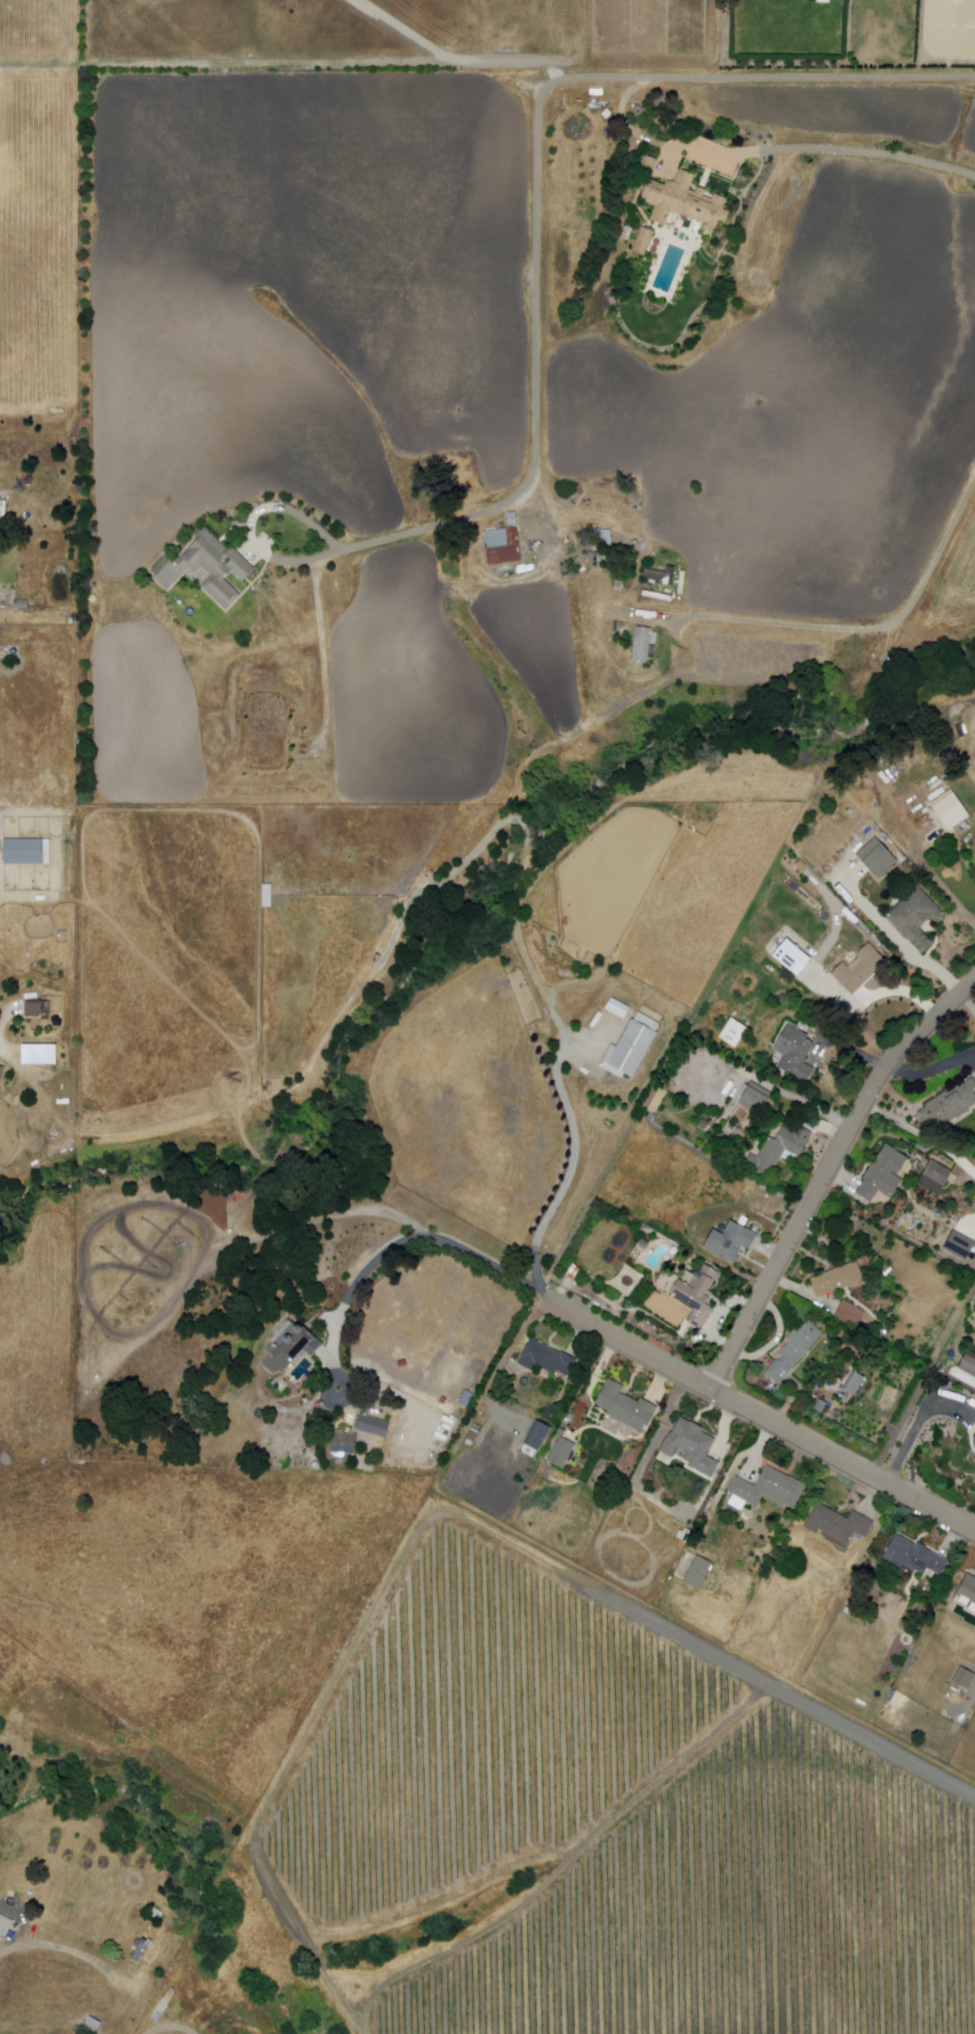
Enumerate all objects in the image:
road: (563, 75)
road: (831, 152)
building: (650, 165)
building: (687, 202)
building: (645, 242)
building: (3, 508)
building: (514, 519)
building: (608, 538)
building: (504, 547)
road: (337, 553)
building: (207, 568)
building: (663, 575)
building: (684, 583)
building: (659, 596)
storage tank: (94, 599)
building: (22, 605)
storage tank: (67, 614)
road: (747, 619)
building: (644, 646)
storage tank: (4, 655)
road: (325, 662)
building: (951, 808)
building: (24, 850)
building: (875, 858)
building: (974, 872)
building: (268, 896)
building: (913, 917)
building: (789, 958)
road: (526, 959)
building: (858, 968)
building: (35, 1009)
building: (732, 1032)
building: (632, 1045)
building: (793, 1052)
building: (39, 1055)
building: (1, 1074)
building: (754, 1098)
building: (948, 1105)
building: (702, 1125)
building: (778, 1147)
road: (828, 1173)
building: (881, 1174)
building: (934, 1176)
building: (741, 1221)
road: (408, 1239)
building: (727, 1242)
building: (957, 1245)
building: (569, 1272)
building: (575, 1274)
building: (835, 1280)
building: (695, 1296)
park: (666, 1309)
building: (848, 1314)
building: (292, 1346)
building: (792, 1351)
building: (544, 1358)
building: (967, 1364)
building: (843, 1376)
road: (924, 1380)
building: (851, 1385)
building: (623, 1407)
road: (760, 1415)
building: (374, 1426)
building: (474, 1435)
building: (533, 1436)
building: (974, 1439)
building: (344, 1444)
building: (690, 1446)
building: (559, 1454)
storage tank: (316, 1465)
building: (769, 1489)
building: (836, 1525)
building: (673, 1532)
building: (913, 1555)
building: (696, 1573)
building: (967, 1590)
building: (974, 1609)
road: (339, 1677)
building: (961, 1678)
road: (650, 1790)
building: (5, 1927)
building: (154, 1947)
building: (133, 1949)
building: (139, 1953)
road: (326, 1976)
building: (93, 2026)
road: (172, 2031)

